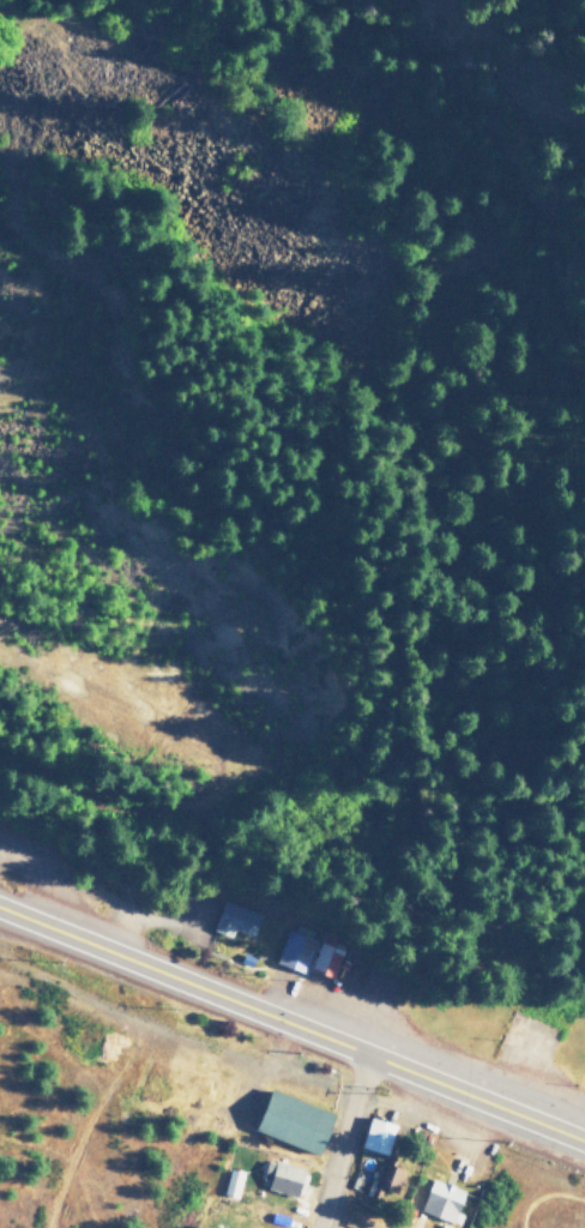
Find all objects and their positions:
road: (229, 760)
road: (68, 885)
road: (145, 920)
building: (234, 920)
building: (307, 953)
building: (379, 982)
road: (292, 1029)
building: (292, 1121)
building: (379, 1137)
road: (344, 1144)
building: (282, 1176)
building: (386, 1176)
building: (231, 1182)
building: (441, 1199)

